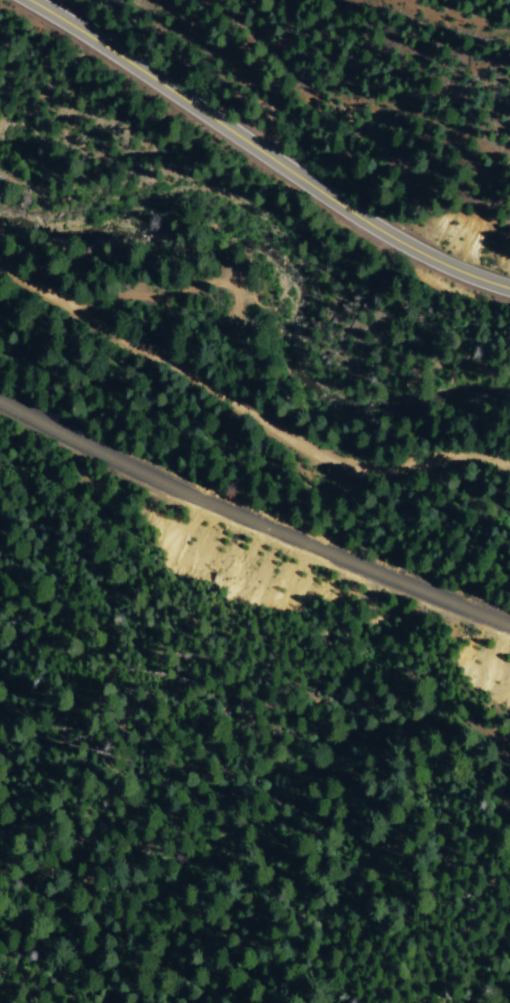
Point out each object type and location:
road: (264, 155)
road: (239, 476)
railway: (251, 521)

